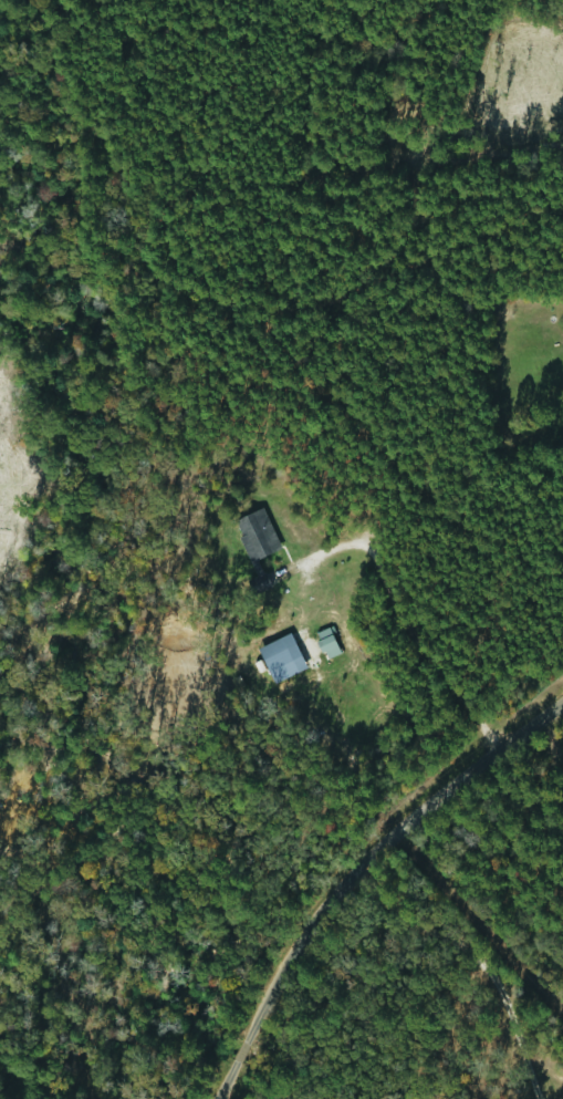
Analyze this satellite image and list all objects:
building: (254, 543)
road: (409, 616)
building: (277, 666)
road: (345, 863)
road: (463, 965)

